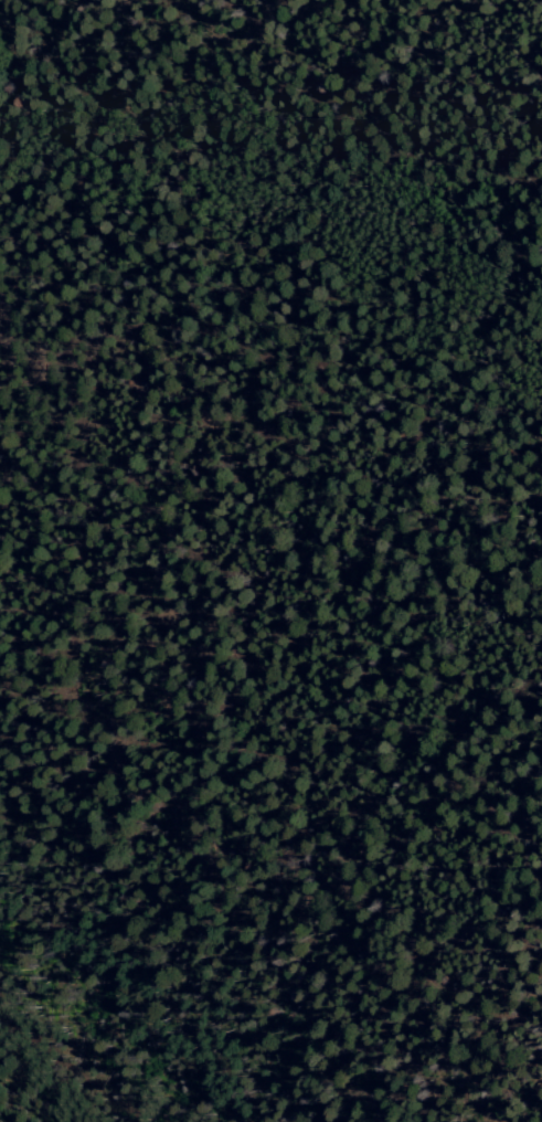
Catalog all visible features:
road: (42, 1091)

